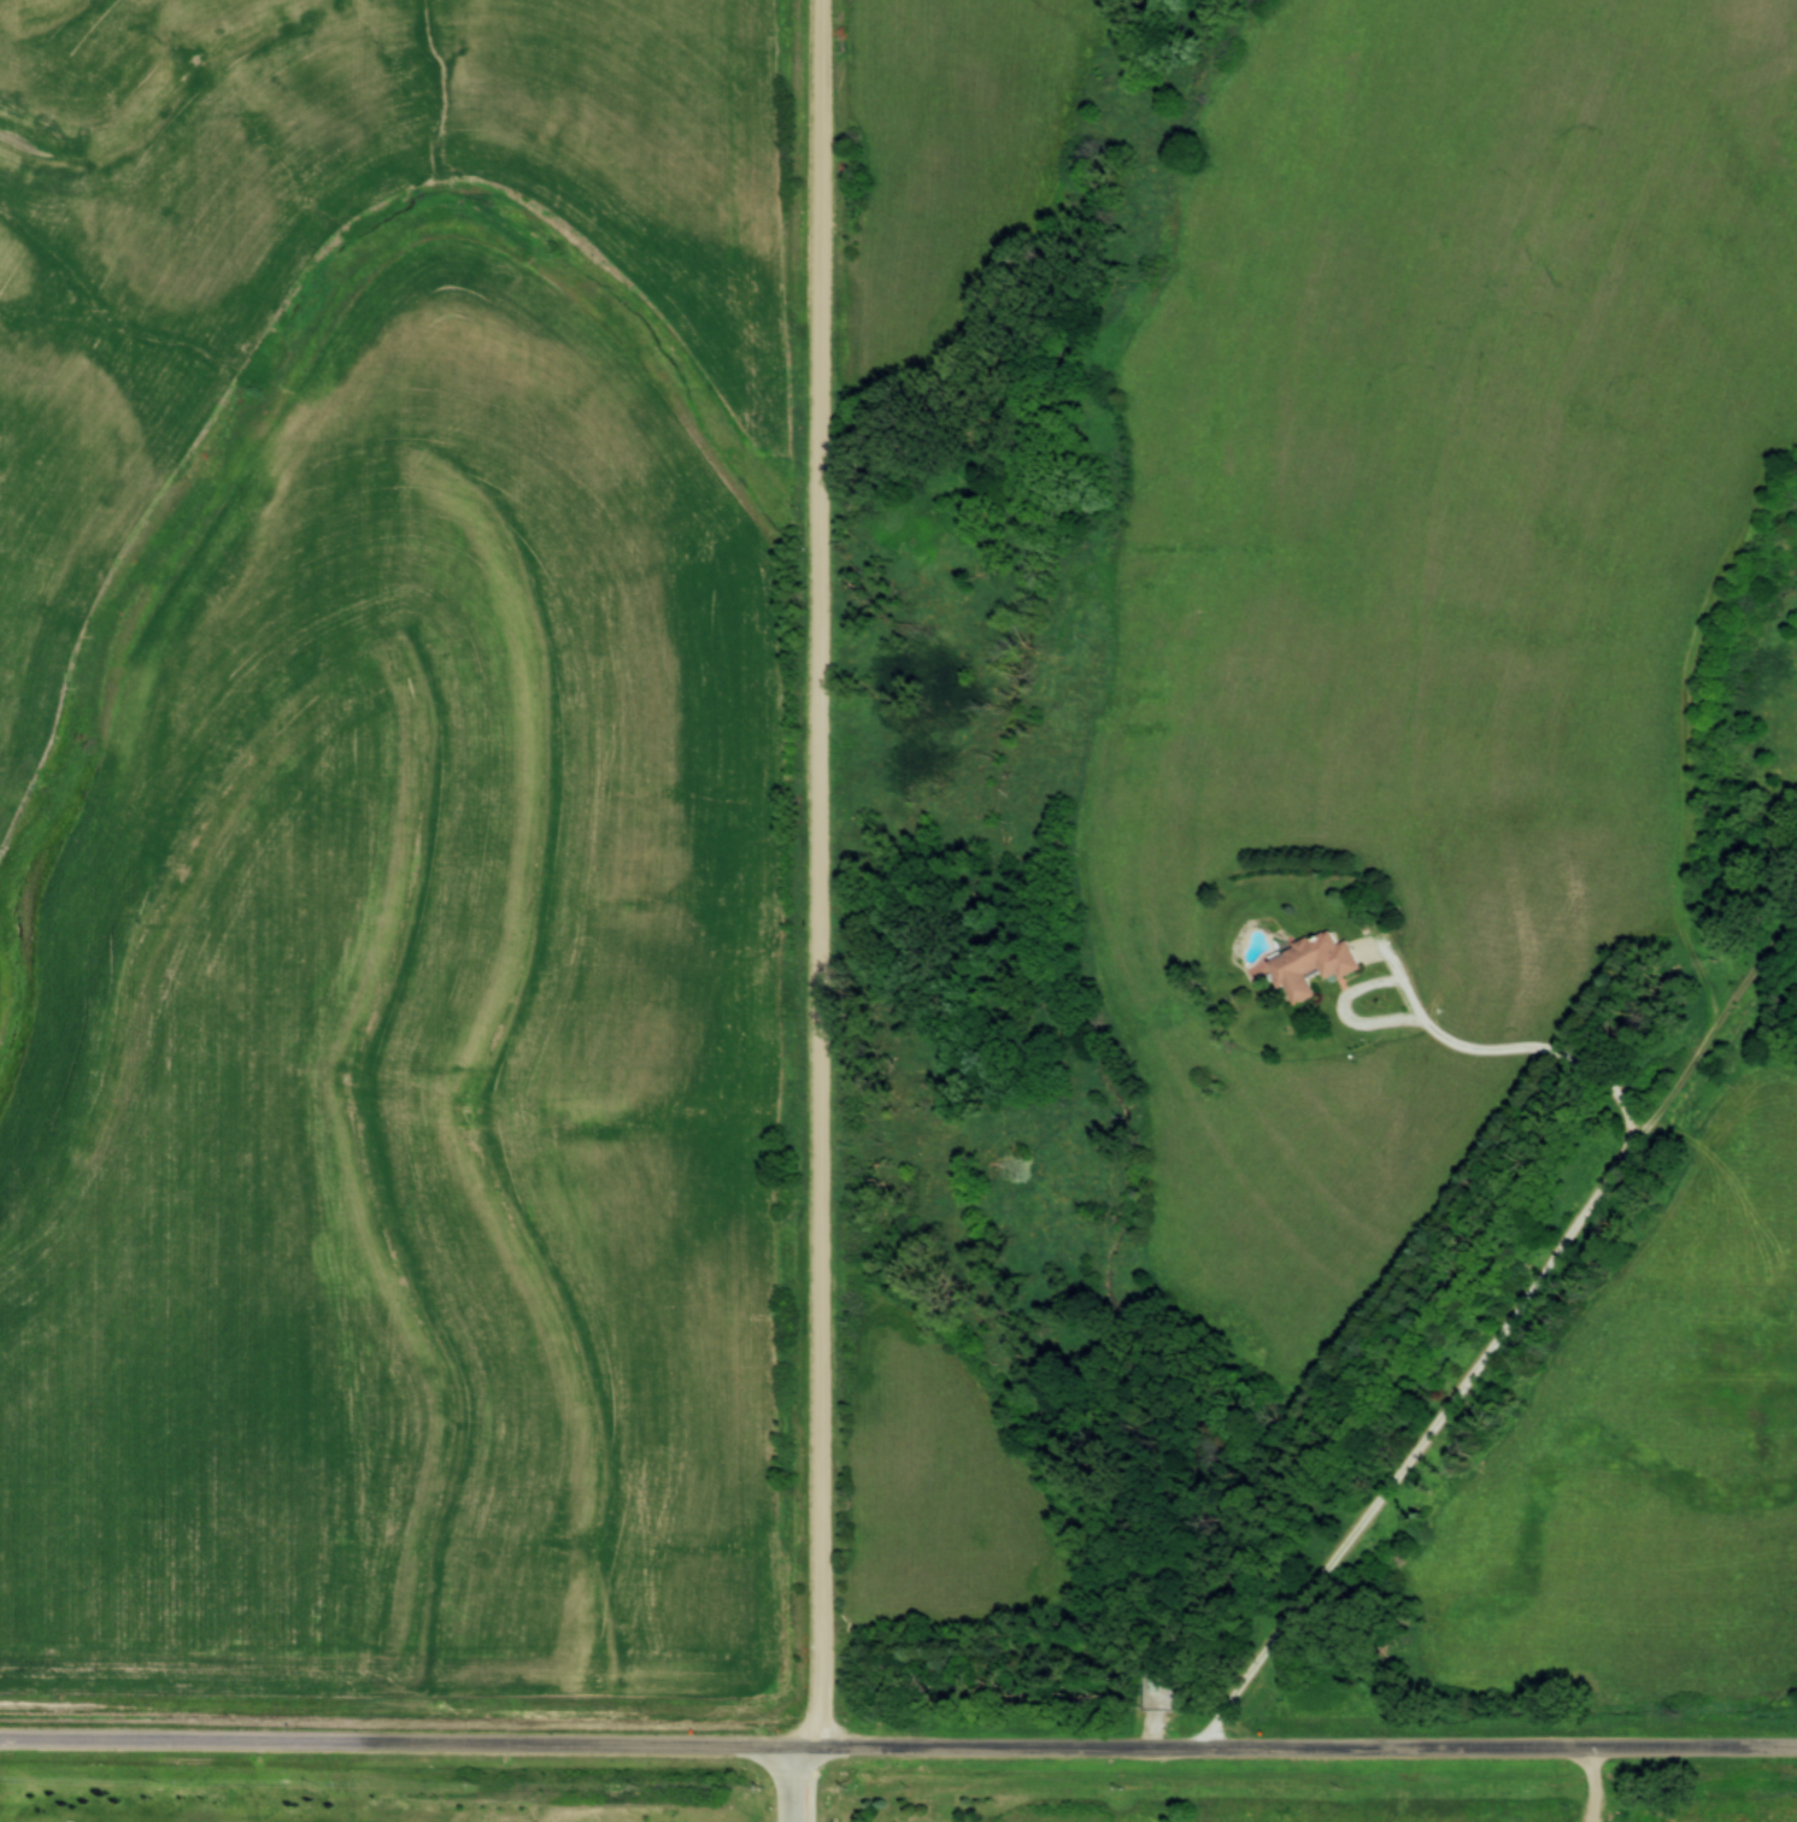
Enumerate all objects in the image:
road: (816, 876)
building: (1311, 964)
road: (1384, 987)
road: (1492, 1338)
building: (1155, 1691)
road: (401, 1747)
road: (1300, 1752)
road: (804, 1787)
park: (1199, 1794)

